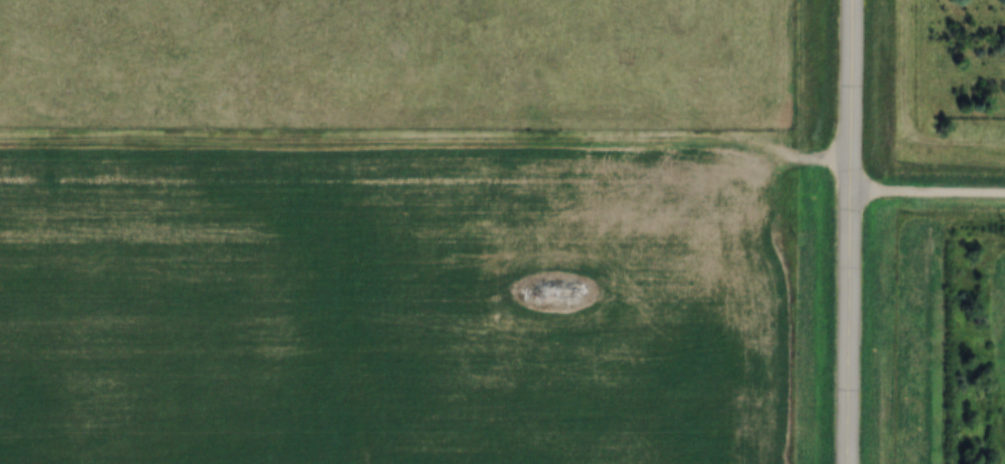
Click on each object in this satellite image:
road: (928, 189)
road: (852, 232)

